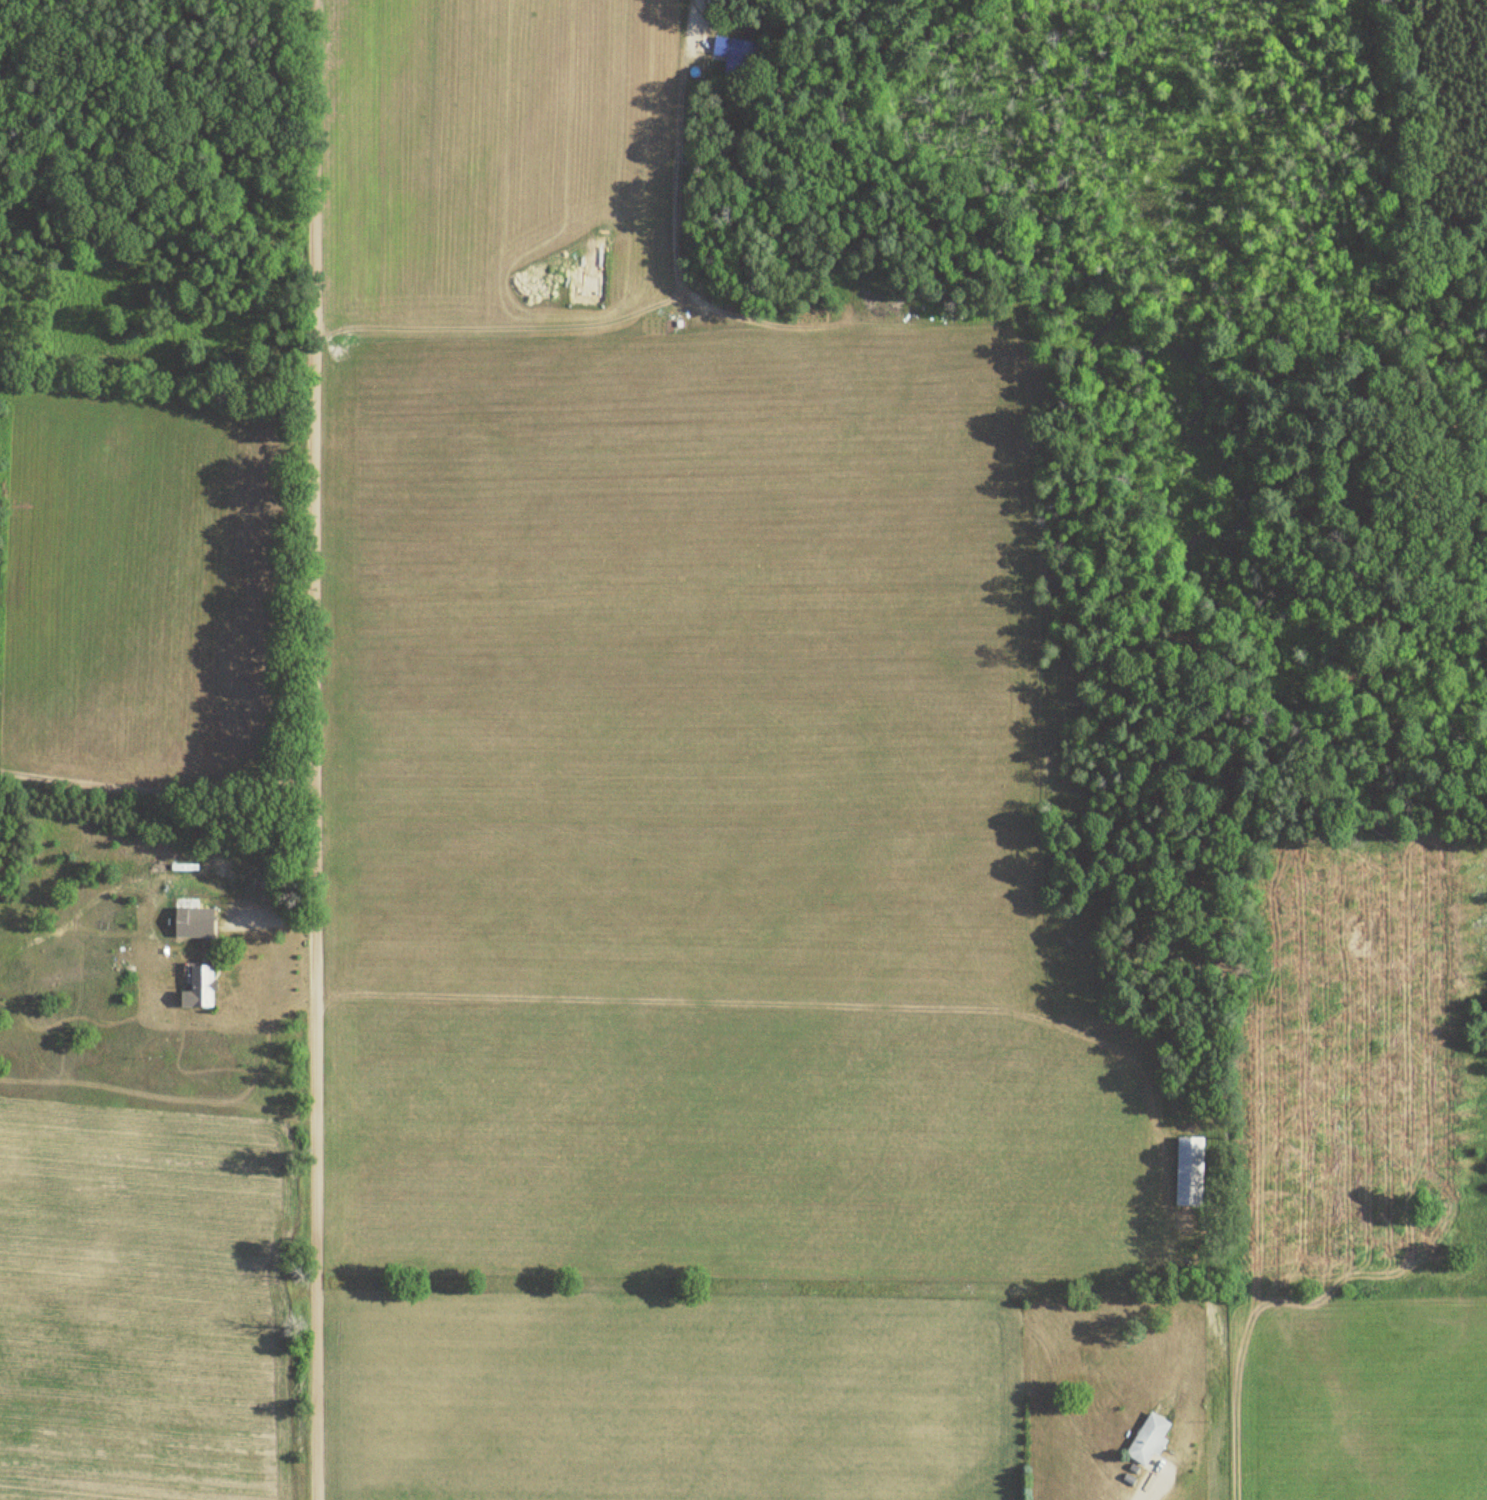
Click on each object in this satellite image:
road: (690, 22)
building: (732, 54)
road: (315, 750)
road: (158, 788)
building: (199, 926)
building: (201, 988)
building: (1189, 1171)
building: (1150, 1439)
road: (1148, 1486)

